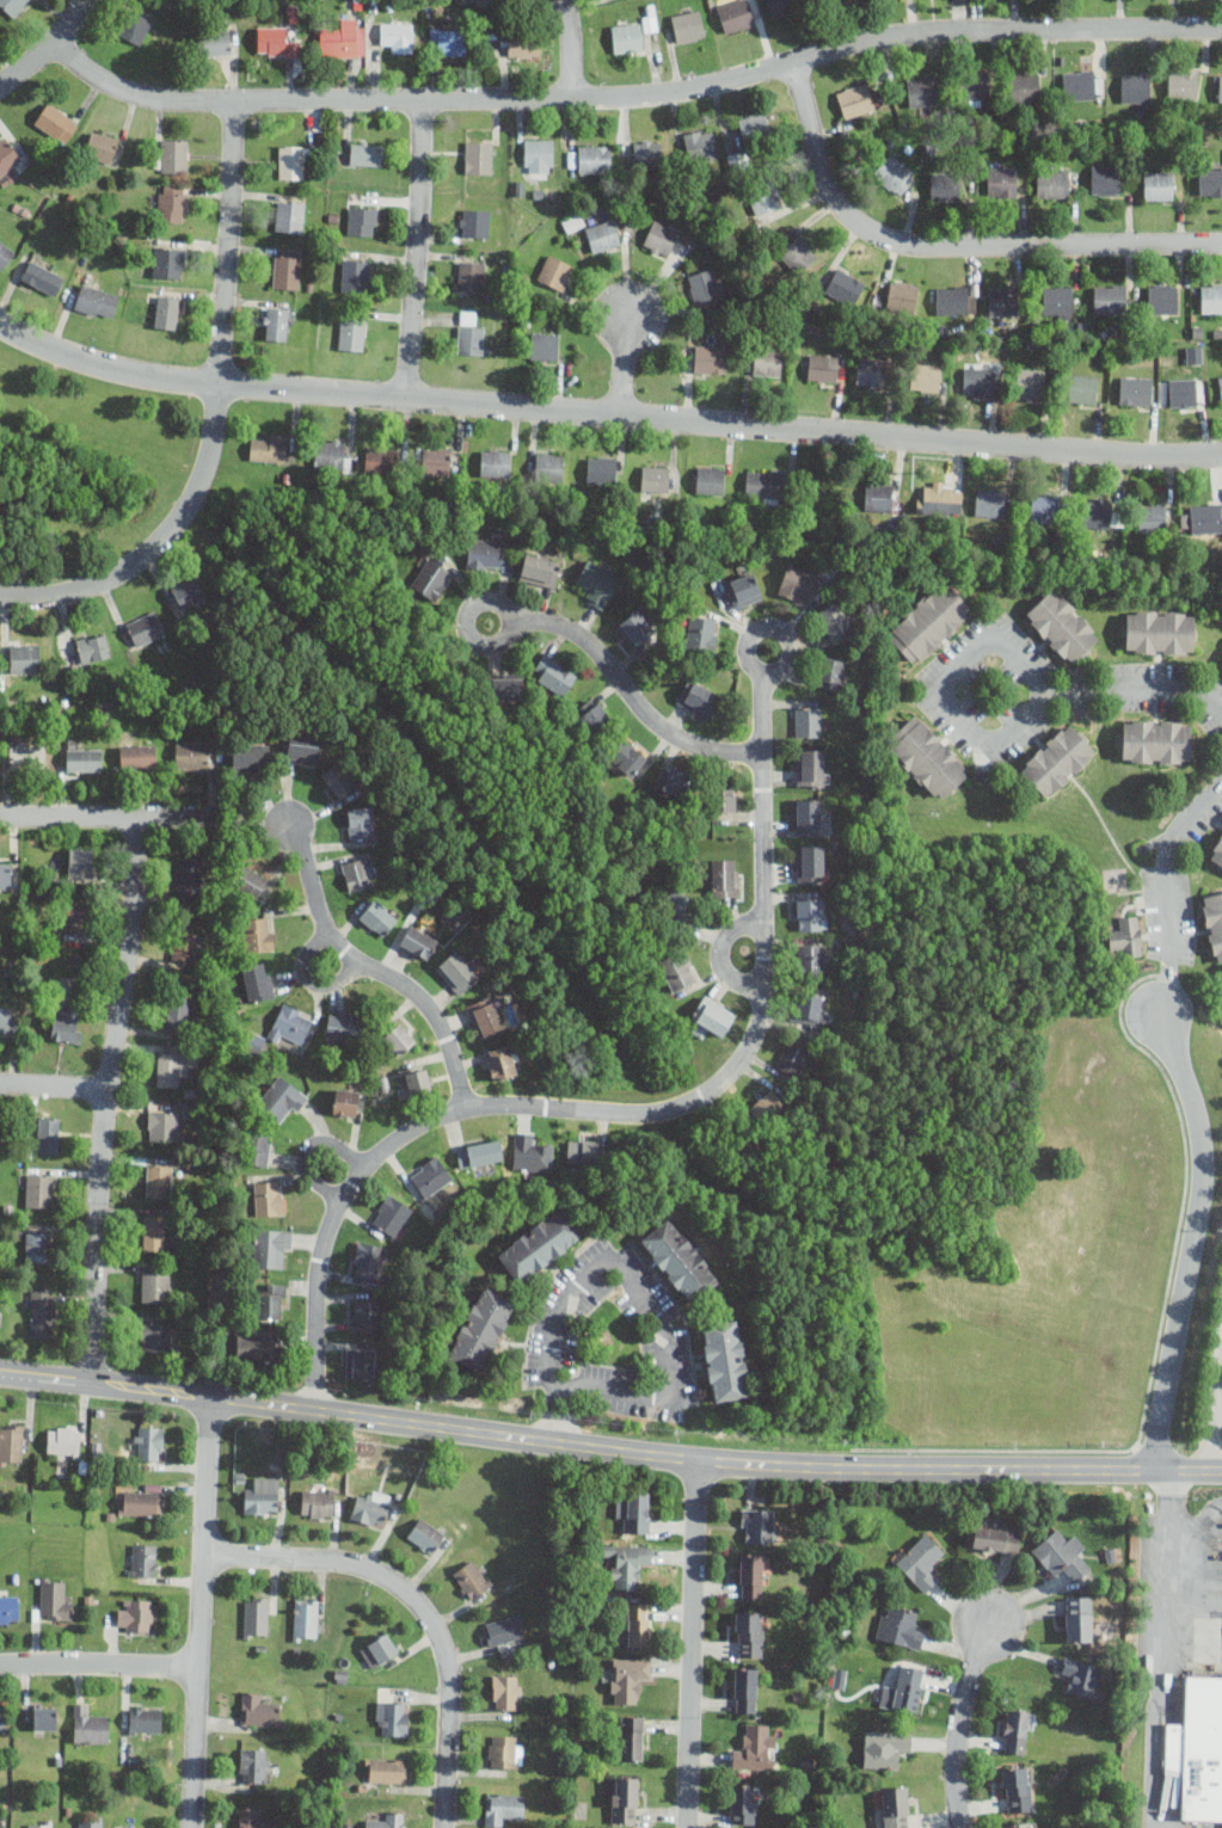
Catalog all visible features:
building: (485, 0)
building: (12, 6)
building: (782, 6)
building: (735, 14)
building: (688, 25)
building: (135, 26)
building: (397, 35)
building: (627, 37)
building: (344, 38)
building: (452, 41)
building: (214, 42)
building: (276, 42)
building: (523, 44)
road: (566, 47)
road: (49, 49)
building: (1183, 82)
building: (1081, 84)
building: (975, 85)
building: (1024, 86)
building: (1135, 87)
building: (1220, 88)
building: (921, 90)
road: (634, 96)
building: (855, 100)
building: (56, 122)
building: (753, 124)
building: (700, 144)
building: (100, 146)
building: (367, 152)
building: (174, 154)
building: (647, 154)
building: (7, 155)
building: (538, 155)
building: (479, 156)
building: (591, 158)
building: (293, 161)
building: (895, 173)
building: (8, 177)
building: (1106, 179)
building: (1210, 180)
building: (1001, 181)
building: (1052, 183)
building: (1157, 185)
building: (945, 189)
building: (764, 198)
building: (172, 202)
building: (289, 216)
building: (363, 220)
building: (473, 222)
building: (602, 235)
building: (661, 236)
road: (948, 245)
road: (417, 247)
building: (5, 253)
building: (797, 253)
building: (168, 261)
building: (287, 271)
building: (555, 271)
building: (355, 275)
building: (471, 276)
building: (42, 277)
building: (704, 285)
building: (847, 287)
building: (902, 295)
building: (1211, 297)
building: (954, 298)
building: (1110, 298)
building: (1162, 298)
building: (96, 300)
building: (1003, 300)
building: (1060, 300)
building: (166, 310)
building: (276, 324)
building: (352, 332)
building: (471, 339)
building: (545, 345)
building: (1195, 353)
building: (710, 358)
building: (767, 362)
road: (622, 365)
building: (822, 367)
building: (872, 370)
building: (926, 377)
building: (978, 378)
building: (1030, 382)
building: (1220, 384)
building: (1082, 388)
building: (1135, 389)
building: (1183, 392)
road: (606, 414)
road: (214, 416)
building: (268, 448)
building: (332, 455)
building: (380, 458)
building: (436, 461)
building: (498, 462)
park: (84, 466)
building: (548, 466)
building: (601, 469)
building: (656, 478)
building: (710, 479)
building: (766, 485)
building: (877, 498)
building: (937, 499)
building: (990, 503)
building: (1044, 509)
building: (1099, 512)
building: (1152, 517)
building: (1205, 517)
building: (484, 553)
building: (539, 568)
building: (431, 577)
building: (597, 581)
building: (799, 581)
building: (743, 589)
building: (188, 590)
building: (834, 618)
building: (929, 622)
building: (1061, 626)
building: (635, 627)
building: (145, 628)
building: (1159, 630)
building: (701, 633)
building: (92, 647)
building: (25, 657)
building: (830, 672)
building: (557, 677)
road: (622, 682)
building: (505, 687)
road: (1136, 689)
building: (698, 697)
building: (594, 718)
building: (809, 721)
building: (1155, 740)
building: (300, 745)
road: (988, 745)
building: (191, 753)
building: (136, 755)
building: (250, 756)
building: (626, 756)
building: (927, 756)
building: (26, 757)
building: (84, 759)
building: (1056, 759)
building: (810, 767)
building: (339, 777)
building: (673, 778)
building: (725, 795)
building: (809, 813)
road: (110, 818)
building: (360, 821)
building: (1216, 851)
building: (81, 863)
building: (810, 863)
building: (189, 873)
building: (357, 873)
building: (6, 875)
building: (724, 876)
building: (250, 881)
building: (678, 909)
building: (810, 912)
building: (76, 916)
building: (377, 917)
building: (1214, 922)
building: (258, 934)
building: (1126, 935)
building: (418, 941)
building: (185, 946)
building: (811, 960)
road: (373, 968)
building: (459, 971)
building: (677, 971)
building: (258, 980)
building: (811, 1005)
building: (177, 1013)
building: (485, 1016)
building: (712, 1016)
building: (5, 1018)
building: (66, 1022)
building: (291, 1023)
building: (343, 1026)
building: (398, 1039)
building: (792, 1057)
building: (499, 1061)
building: (171, 1067)
building: (418, 1081)
road: (53, 1085)
road: (105, 1098)
building: (282, 1100)
building: (345, 1101)
building: (767, 1106)
road: (633, 1115)
road: (1196, 1115)
building: (162, 1125)
building: (48, 1134)
building: (258, 1146)
road: (309, 1149)
building: (480, 1152)
building: (530, 1152)
building: (582, 1152)
building: (430, 1176)
building: (159, 1180)
building: (38, 1190)
building: (269, 1198)
building: (391, 1214)
building: (154, 1232)
building: (539, 1244)
building: (37, 1247)
building: (271, 1248)
building: (368, 1260)
building: (680, 1260)
building: (154, 1286)
road: (646, 1299)
building: (272, 1300)
building: (43, 1312)
building: (367, 1315)
building: (480, 1328)
building: (155, 1336)
building: (257, 1344)
building: (724, 1360)
building: (360, 1365)
road: (561, 1390)
road: (1211, 1397)
building: (63, 1441)
building: (11, 1444)
building: (147, 1444)
road: (608, 1450)
building: (263, 1496)
building: (143, 1501)
building: (318, 1502)
building: (371, 1508)
building: (637, 1510)
building: (756, 1525)
building: (425, 1534)
building: (996, 1539)
building: (1062, 1555)
building: (143, 1559)
building: (921, 1561)
building: (628, 1563)
building: (751, 1575)
building: (472, 1577)
building: (54, 1599)
road: (416, 1606)
building: (10, 1607)
road: (198, 1609)
building: (136, 1614)
building: (256, 1615)
building: (1077, 1618)
building: (306, 1619)
building: (638, 1624)
building: (899, 1627)
building: (504, 1630)
building: (750, 1633)
road: (689, 1644)
road: (1159, 1648)
building: (380, 1649)
road: (98, 1662)
building: (1081, 1675)
building: (628, 1678)
building: (907, 1687)
building: (744, 1689)
building: (505, 1691)
building: (258, 1709)
building: (44, 1717)
building: (393, 1717)
building: (2, 1718)
building: (145, 1718)
road: (960, 1721)
building: (88, 1727)
building: (1014, 1730)
building: (631, 1737)
building: (1198, 1746)
building: (755, 1747)
building: (885, 1747)
building: (505, 1750)
building: (252, 1765)
building: (387, 1769)
building: (1018, 1789)
building: (625, 1798)
building: (743, 1803)
building: (895, 1805)
building: (503, 1807)
building: (253, 1818)
building: (386, 1821)
building: (92, 1823)
building: (41, 1824)
building: (1020, 1824)

